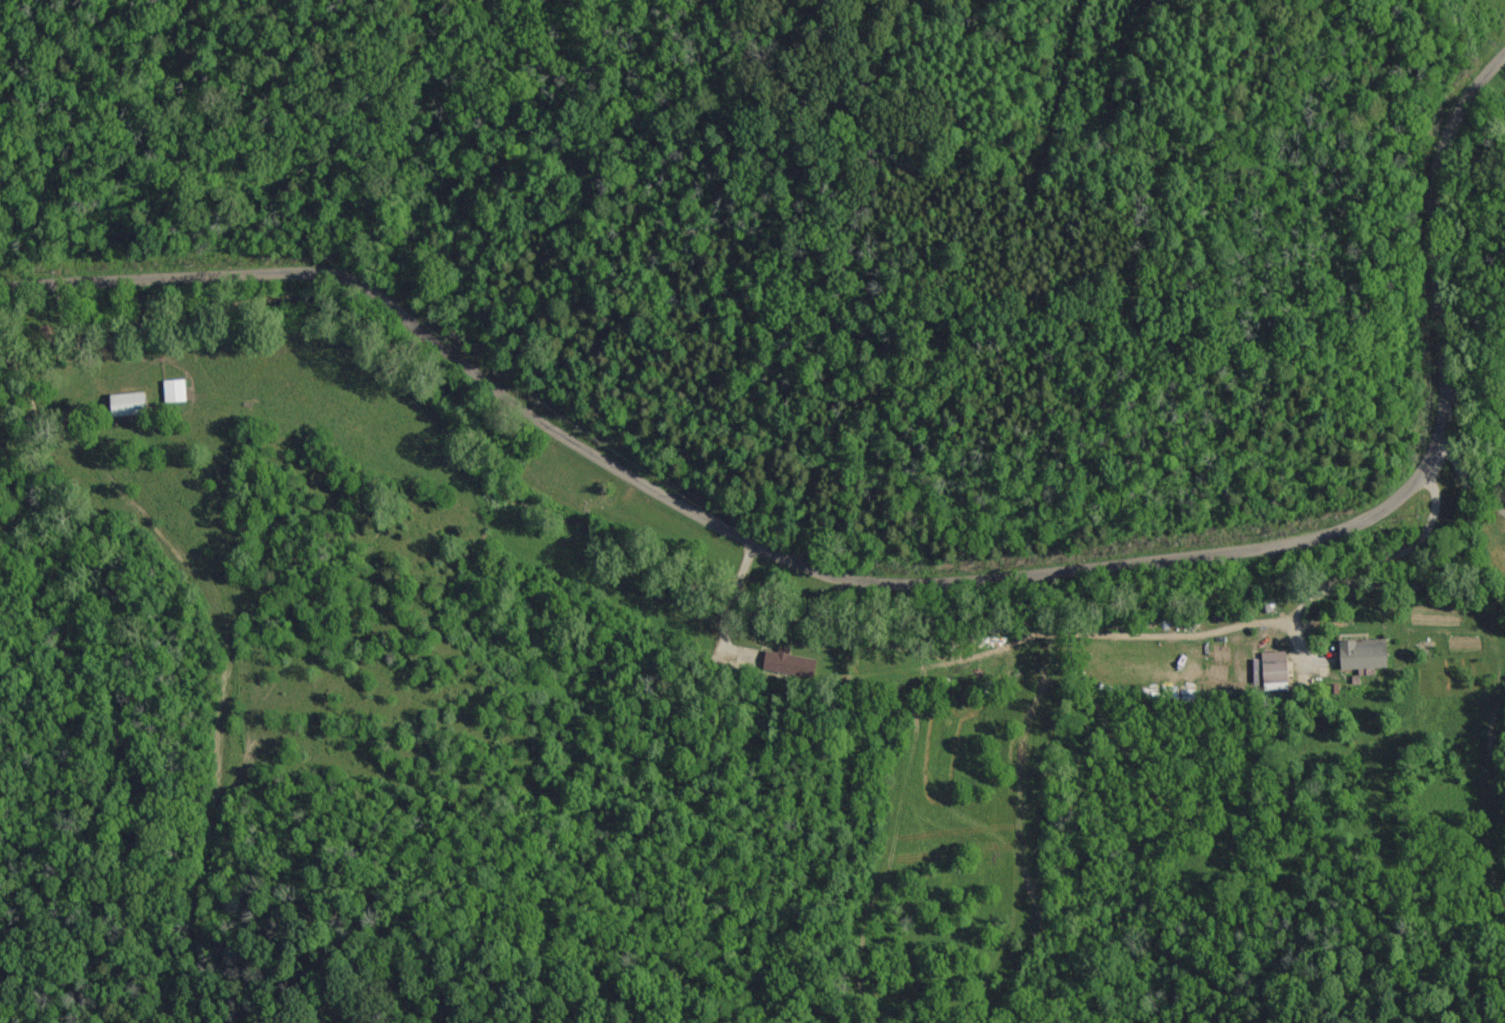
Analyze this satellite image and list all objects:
road: (176, 298)
building: (124, 404)
road: (1450, 456)
road: (1463, 459)
road: (1370, 562)
road: (901, 583)
road: (900, 602)
building: (1358, 653)
building: (787, 663)
building: (1270, 670)

